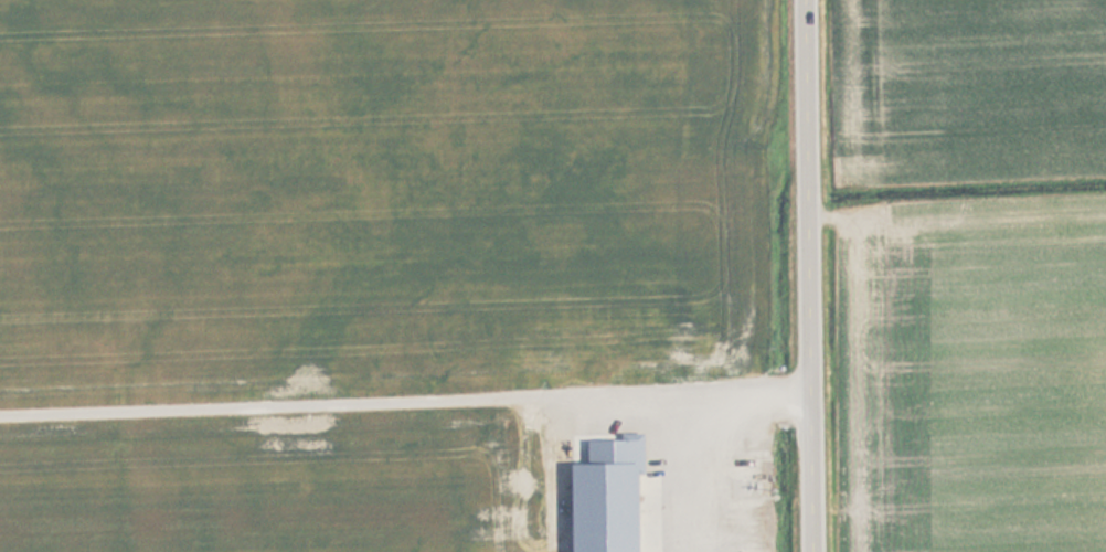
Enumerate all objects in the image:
road: (811, 276)
building: (550, 362)
road: (405, 399)

